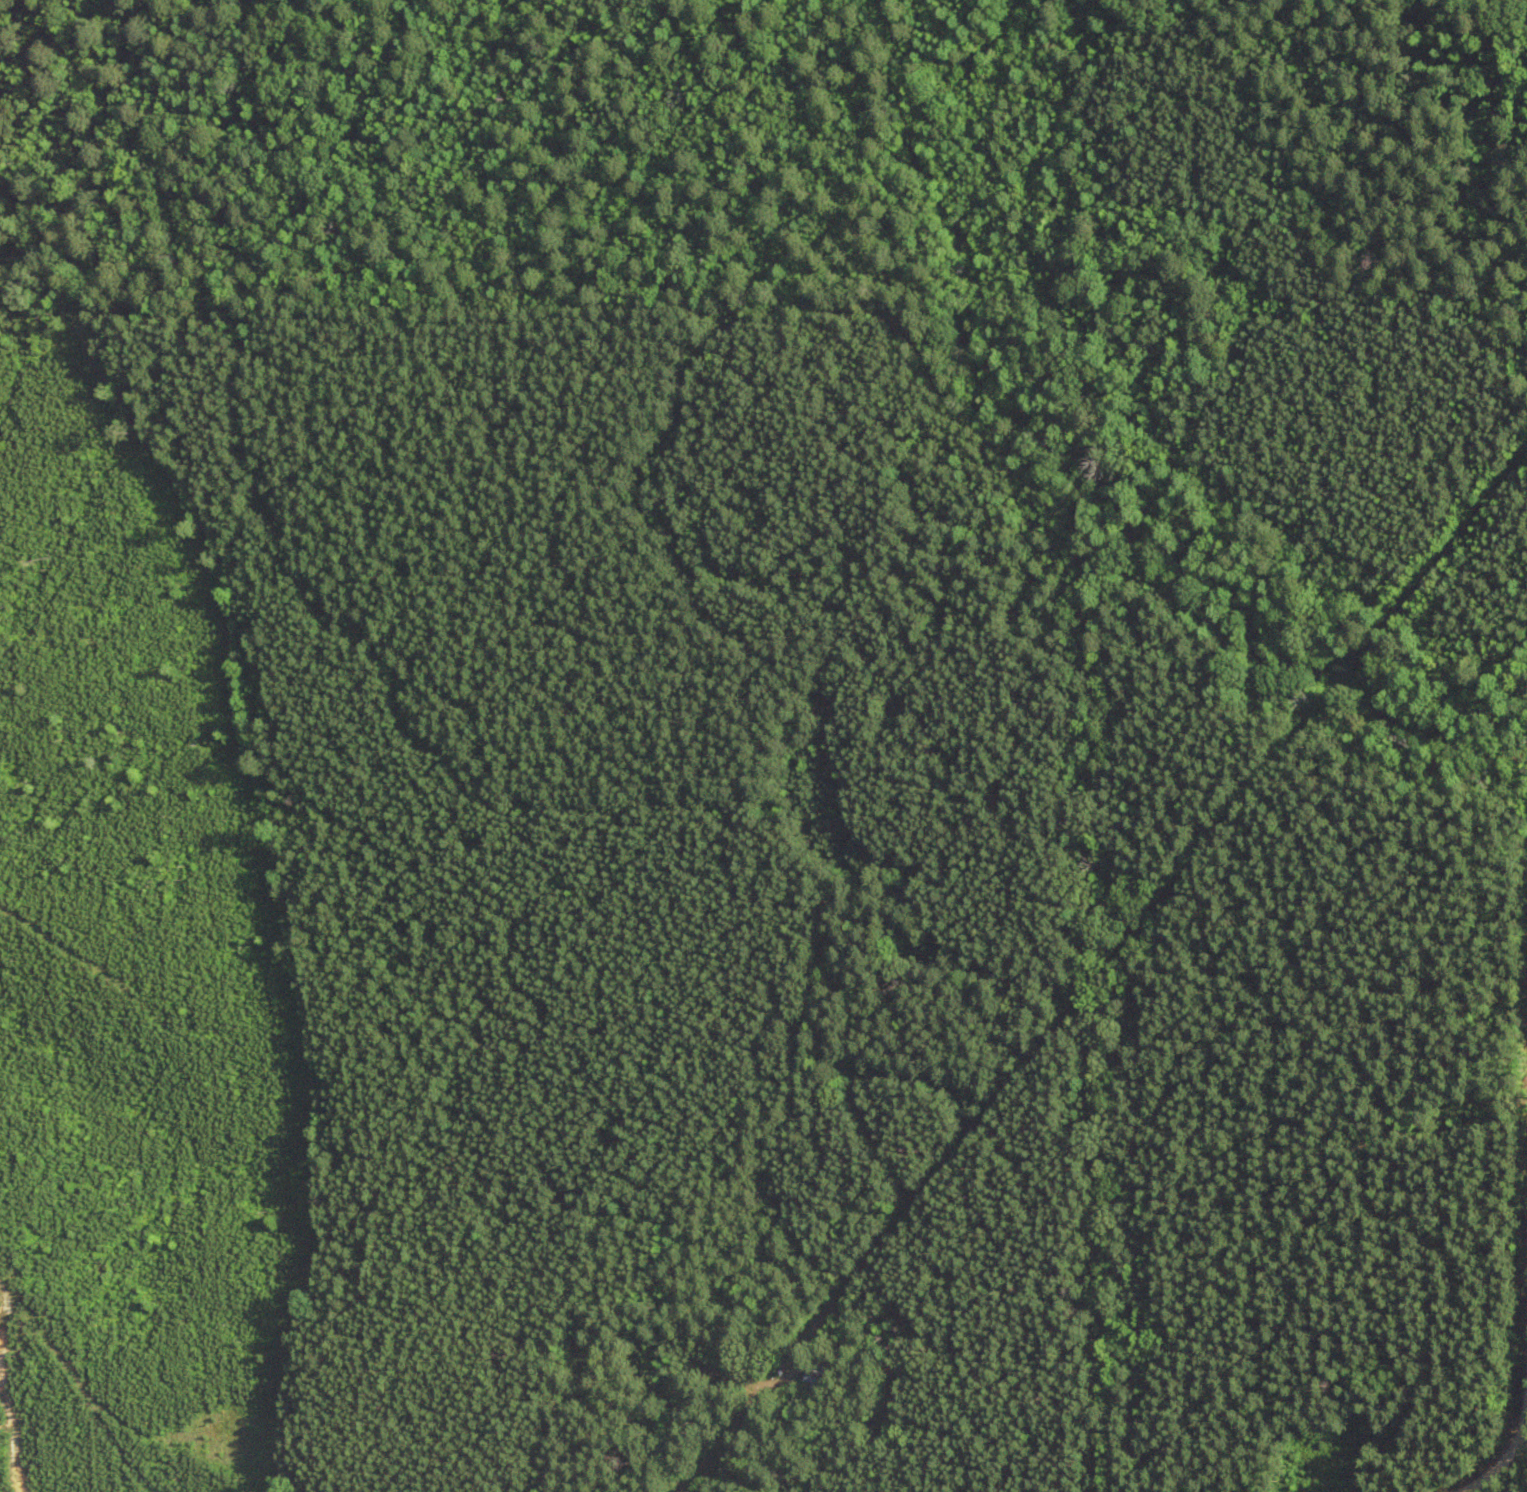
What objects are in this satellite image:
road: (1504, 1461)

